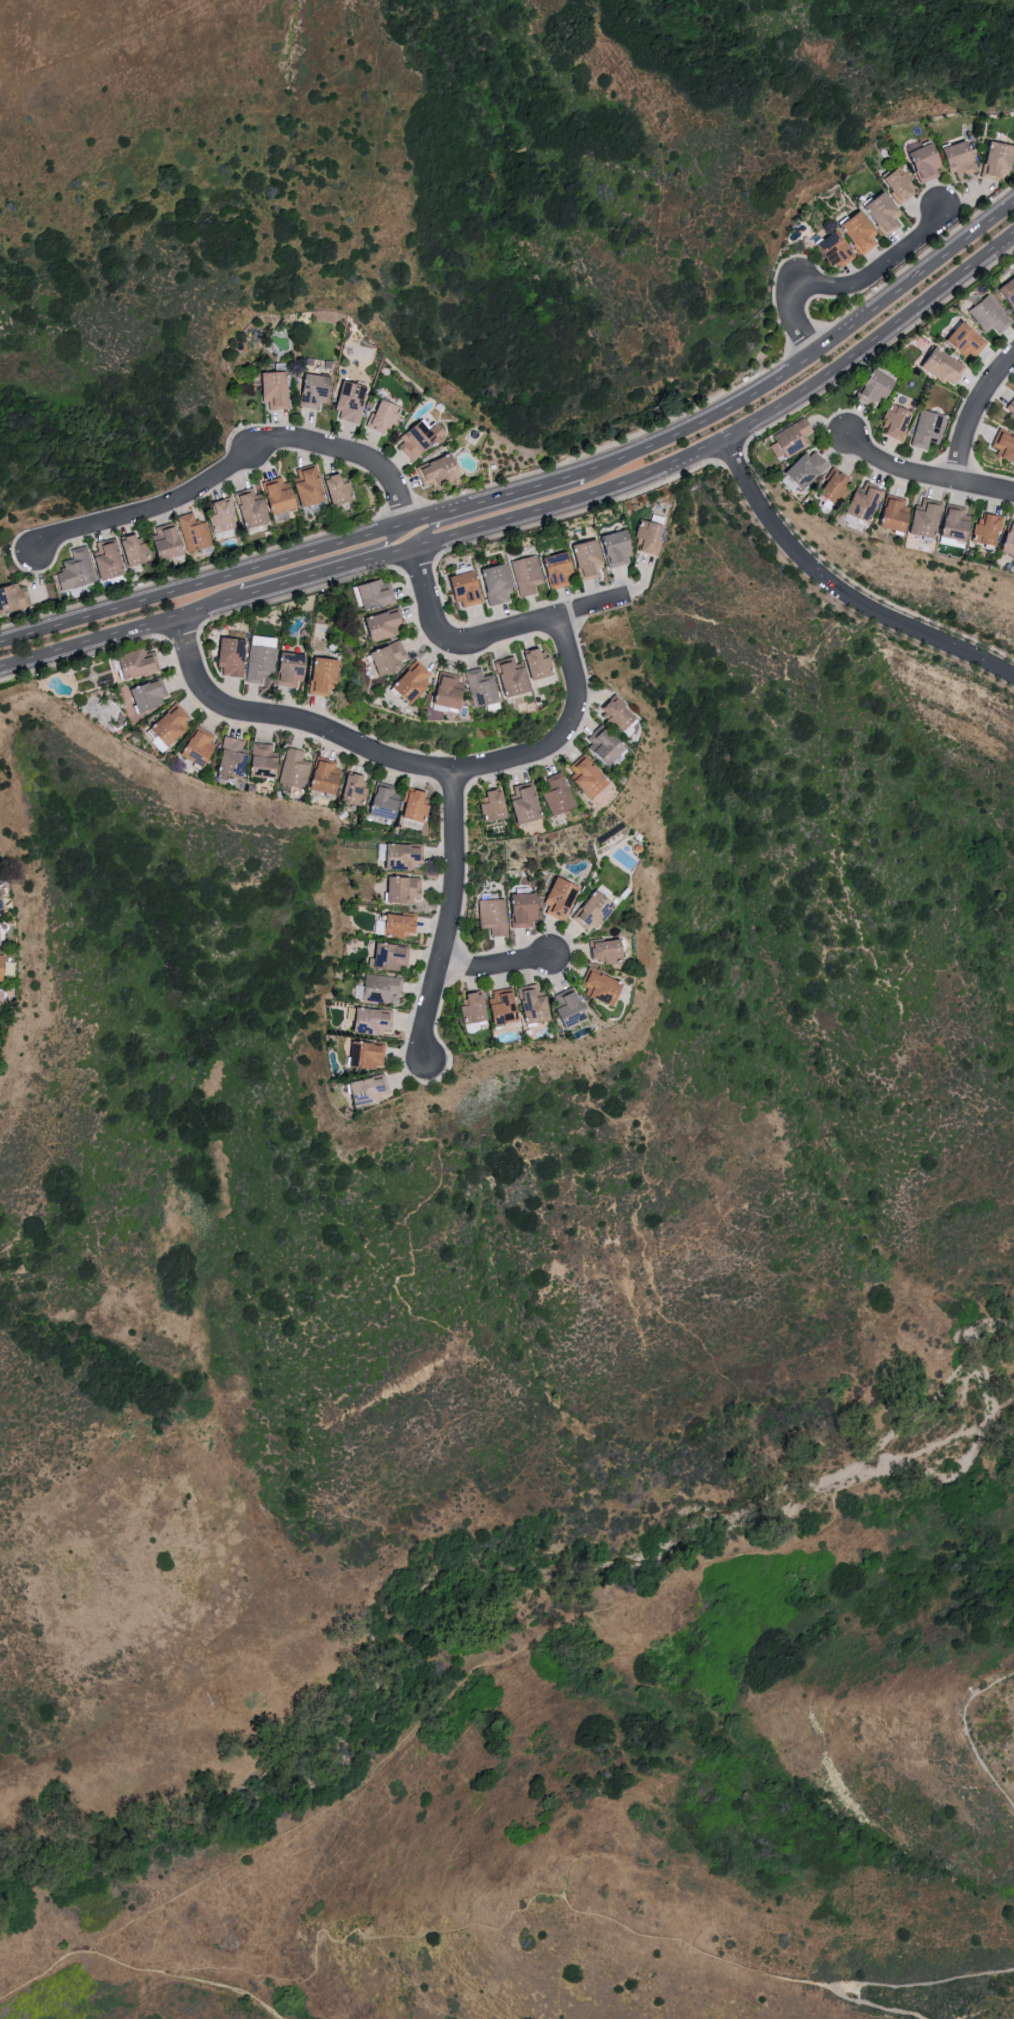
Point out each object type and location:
building: (953, 158)
building: (920, 162)
building: (895, 184)
building: (878, 213)
building: (854, 232)
building: (829, 250)
road: (848, 285)
building: (1006, 292)
building: (986, 314)
building: (960, 340)
road: (806, 352)
building: (935, 365)
building: (868, 386)
building: (278, 388)
building: (318, 389)
building: (353, 401)
building: (1010, 409)
building: (385, 415)
road: (975, 415)
building: (891, 423)
building: (925, 428)
building: (423, 438)
building: (787, 438)
road: (714, 441)
building: (1002, 446)
road: (235, 464)
building: (800, 469)
building: (441, 470)
road: (926, 476)
building: (312, 485)
road: (514, 488)
building: (342, 489)
building: (829, 489)
building: (283, 494)
building: (858, 502)
building: (255, 506)
building: (889, 512)
building: (225, 516)
building: (919, 519)
building: (949, 522)
road: (431, 527)
building: (983, 529)
building: (184, 535)
building: (646, 538)
building: (1006, 539)
road: (389, 542)
building: (619, 547)
building: (137, 549)
building: (591, 557)
building: (111, 558)
building: (560, 569)
building: (78, 571)
road: (225, 574)
building: (527, 574)
road: (305, 579)
building: (498, 582)
building: (467, 587)
road: (839, 591)
building: (375, 594)
road: (428, 597)
building: (15, 598)
road: (547, 619)
building: (388, 623)
road: (120, 632)
building: (233, 657)
building: (261, 657)
building: (391, 658)
building: (141, 663)
building: (540, 664)
building: (293, 667)
building: (325, 676)
building: (514, 676)
building: (415, 681)
building: (482, 687)
building: (452, 692)
building: (152, 694)
building: (621, 713)
building: (173, 724)
building: (157, 739)
building: (608, 744)
building: (202, 746)
building: (234, 757)
road: (404, 761)
building: (281, 764)
building: (327, 776)
building: (591, 776)
building: (355, 788)
building: (558, 794)
building: (527, 802)
building: (415, 803)
building: (496, 804)
building: (405, 855)
building: (405, 888)
building: (2, 898)
building: (563, 898)
building: (526, 909)
building: (595, 910)
building: (494, 915)
road: (452, 916)
building: (397, 924)
building: (1, 935)
building: (609, 949)
building: (392, 955)
road: (496, 965)
building: (3, 966)
building: (604, 986)
building: (382, 988)
building: (4, 1000)
building: (536, 1004)
building: (506, 1005)
building: (573, 1006)
building: (477, 1009)
building: (371, 1020)
building: (368, 1055)
building: (372, 1090)
road: (493, 1663)
road: (969, 1733)
road: (385, 1936)
road: (691, 1950)
road: (185, 1975)
road: (877, 1985)

